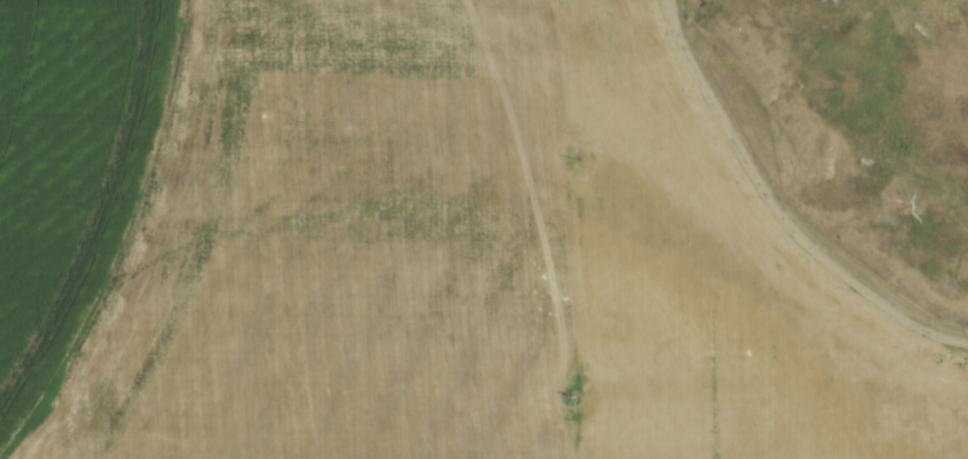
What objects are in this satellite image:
crop: (422, 245)

